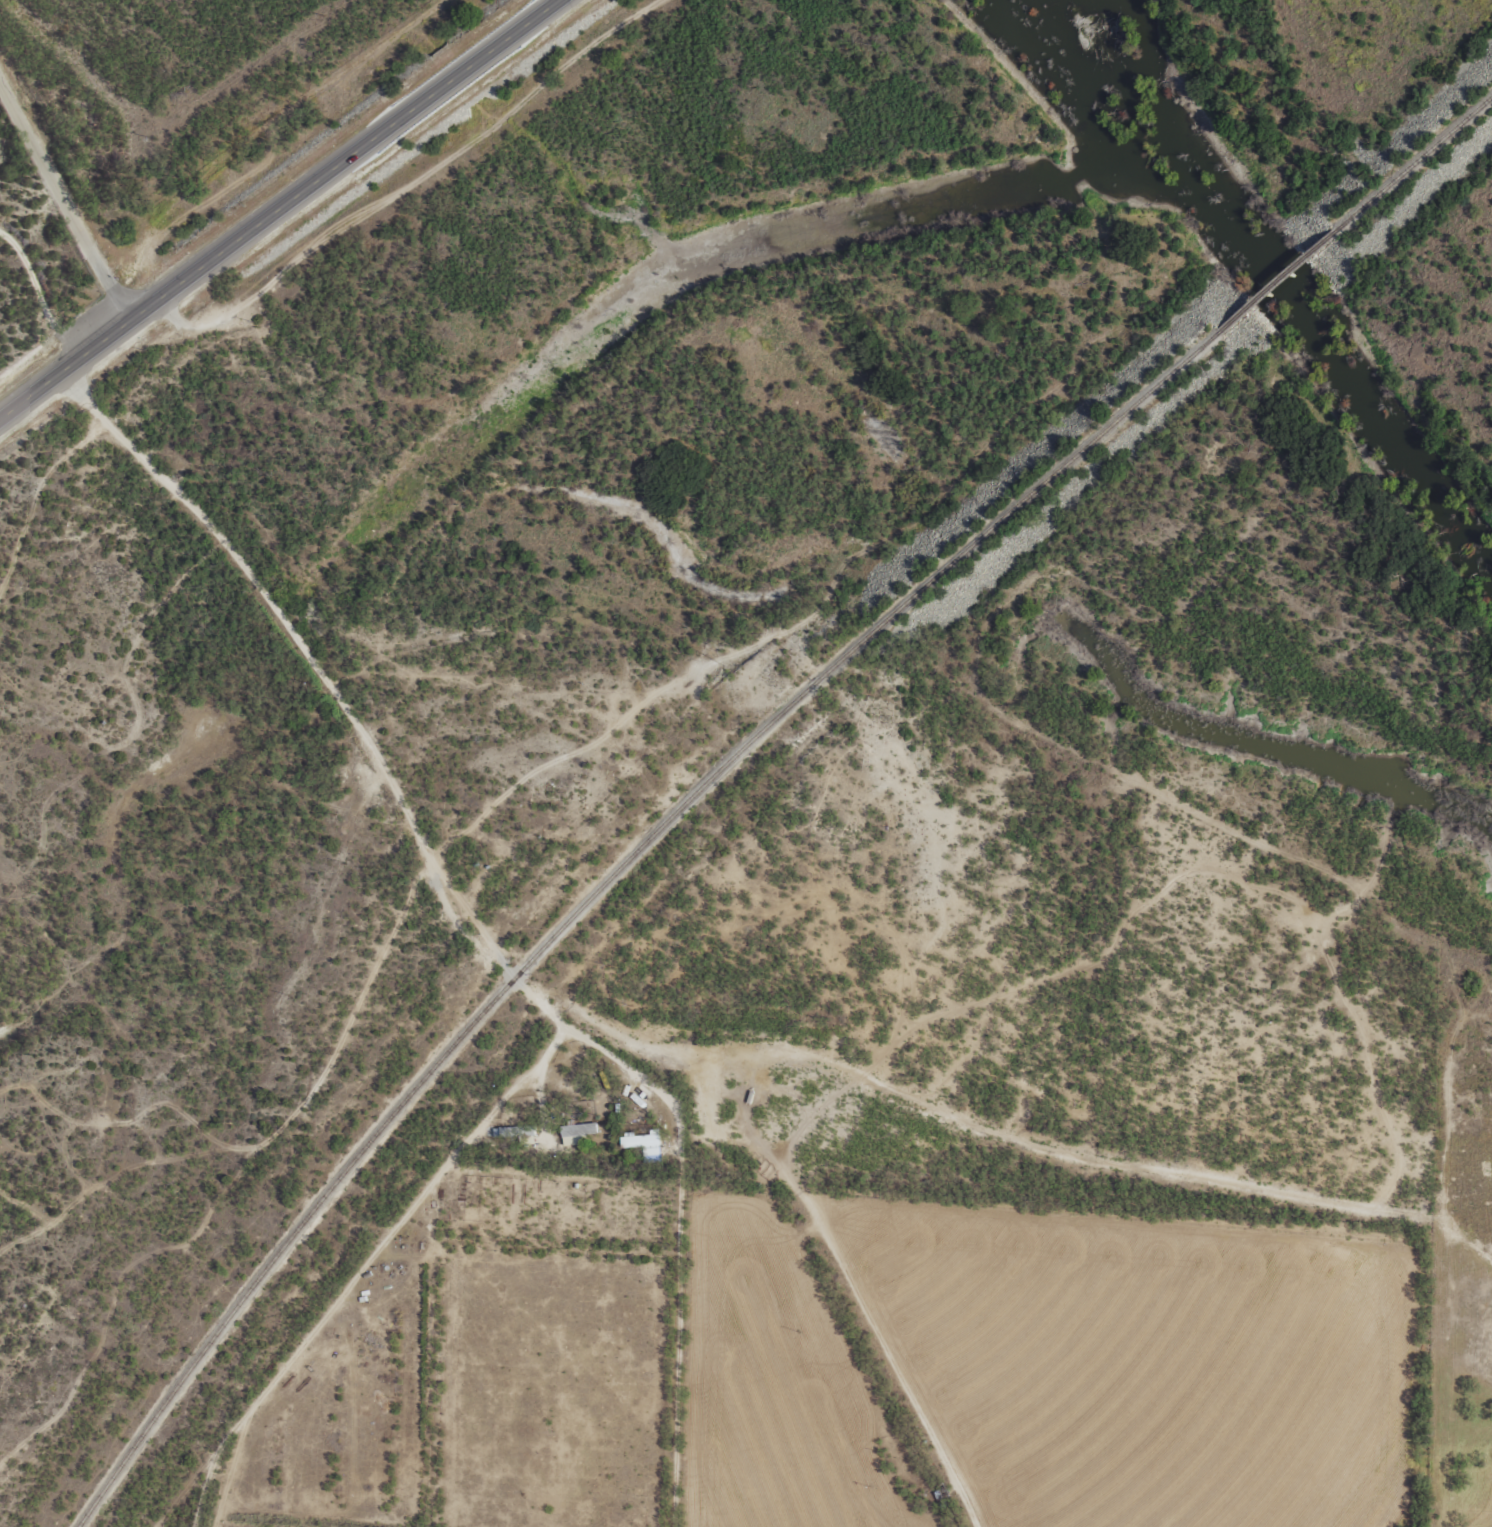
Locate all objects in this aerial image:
railway: (1415, 161)
road: (293, 218)
road: (65, 238)
river: (1267, 276)
railway: (1278, 279)
road: (332, 693)
railway: (602, 888)
building: (576, 1132)
road: (1007, 1135)
building: (643, 1144)
road: (741, 1154)
road: (360, 1267)
road: (1445, 1373)

